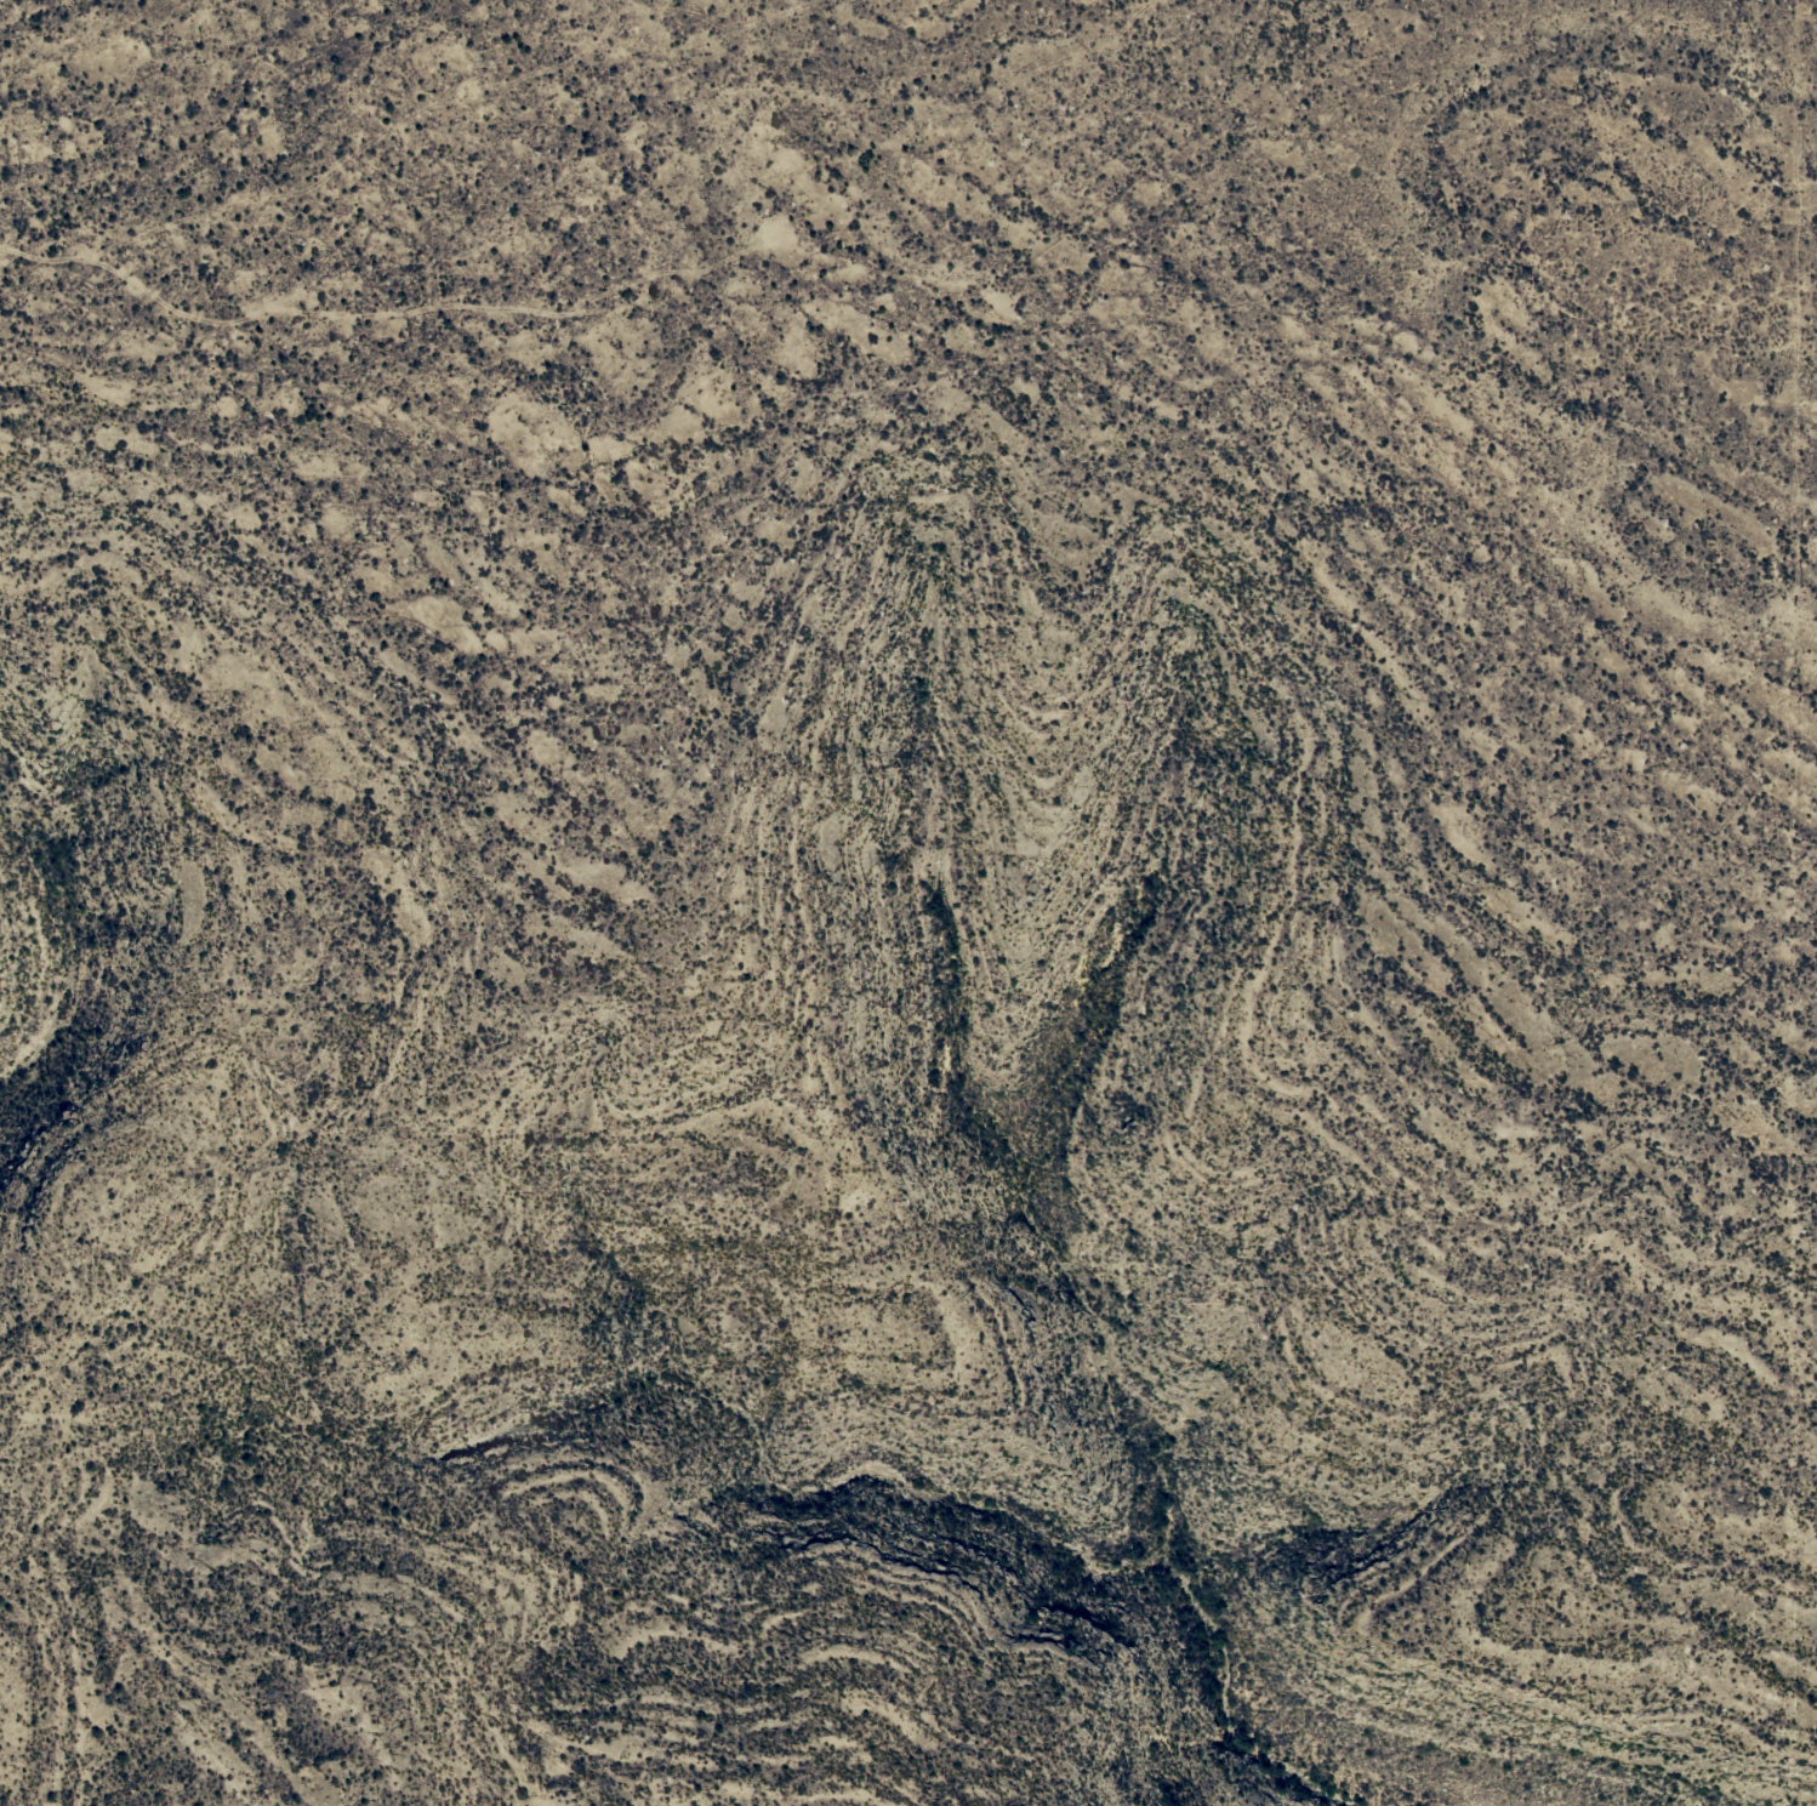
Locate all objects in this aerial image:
road: (631, 737)

